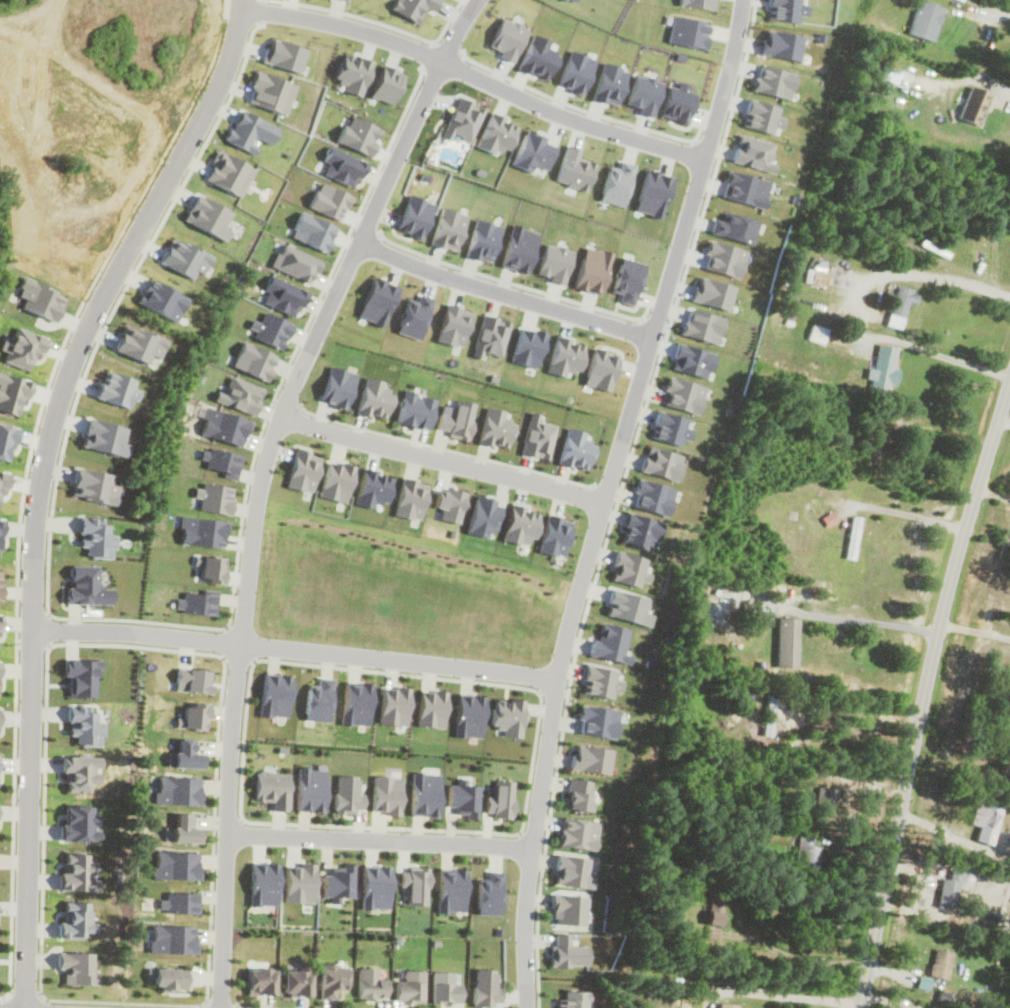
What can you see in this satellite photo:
building: (924, 19)
road: (977, 42)
road: (473, 76)
building: (973, 105)
building: (817, 272)
road: (925, 274)
road: (503, 293)
building: (899, 305)
building: (816, 334)
road: (934, 347)
road: (295, 350)
building: (883, 368)
road: (286, 403)
road: (1004, 414)
road: (444, 448)
road: (441, 459)
road: (260, 481)
road: (41, 482)
road: (992, 491)
road: (602, 498)
road: (916, 515)
road: (49, 535)
building: (851, 537)
road: (593, 579)
road: (878, 621)
road: (48, 629)
road: (975, 629)
road: (224, 640)
building: (786, 642)
road: (295, 649)
road: (238, 658)
road: (925, 687)
building: (708, 706)
road: (863, 712)
road: (14, 735)
building: (823, 800)
building: (987, 824)
road: (944, 830)
road: (512, 833)
road: (379, 839)
building: (806, 856)
building: (950, 888)
building: (714, 910)
road: (819, 961)
building: (940, 963)
building: (331, 979)
building: (260, 980)
building: (296, 982)
building: (369, 983)
building: (410, 985)
road: (807, 995)
road: (203, 1002)
road: (217, 1003)
road: (202, 1005)
road: (235, 1006)
road: (246, 1007)

